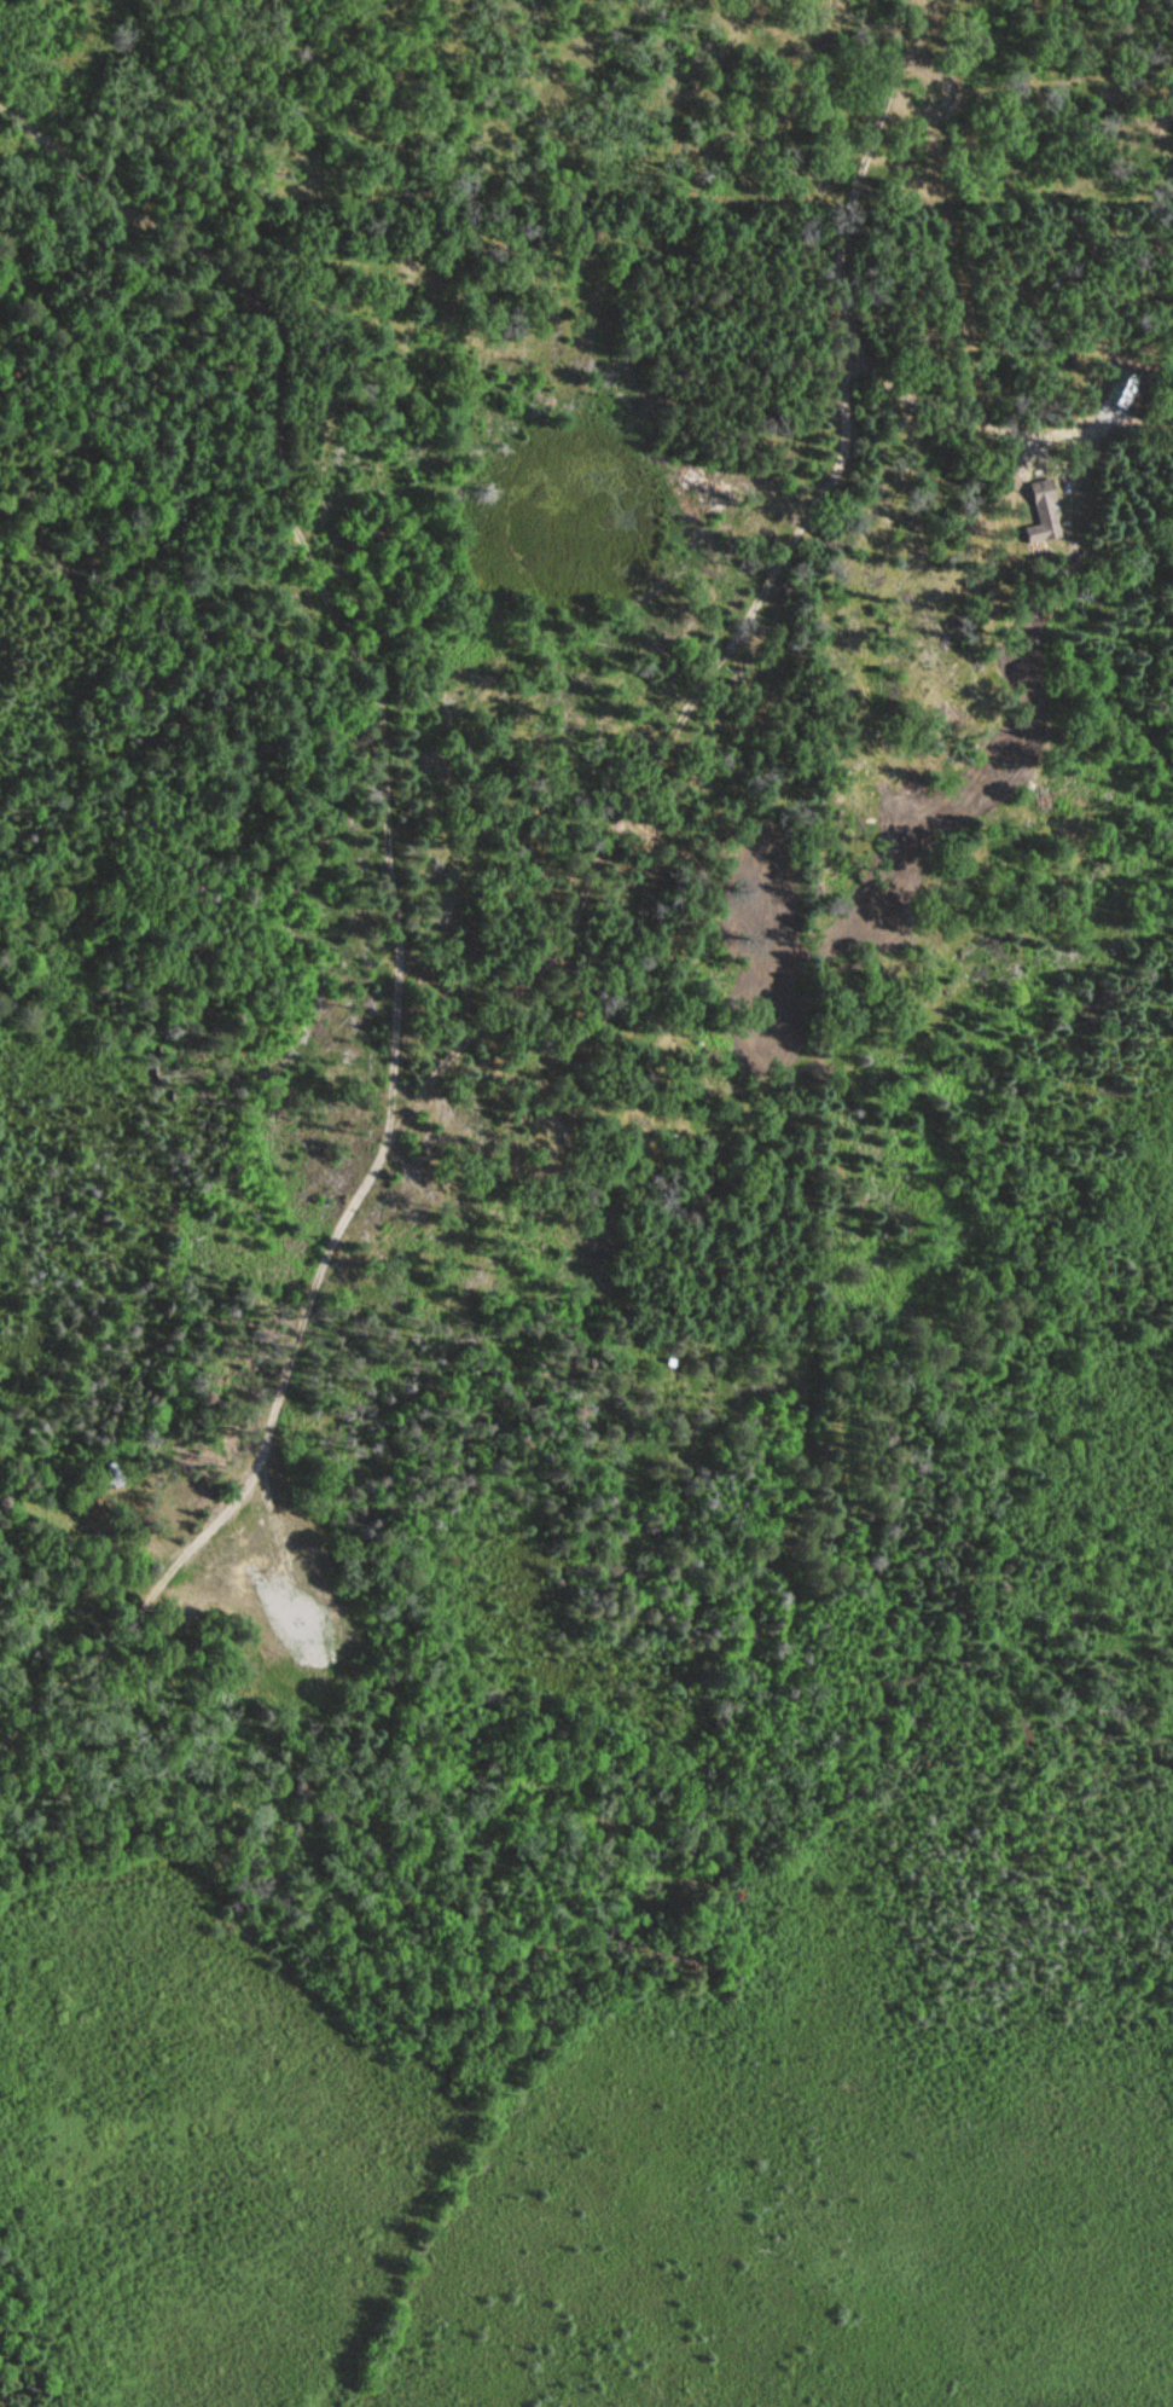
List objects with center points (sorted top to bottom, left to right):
road: (933, 390)
building: (1043, 514)
road: (318, 543)
road: (553, 932)
building: (112, 1478)

